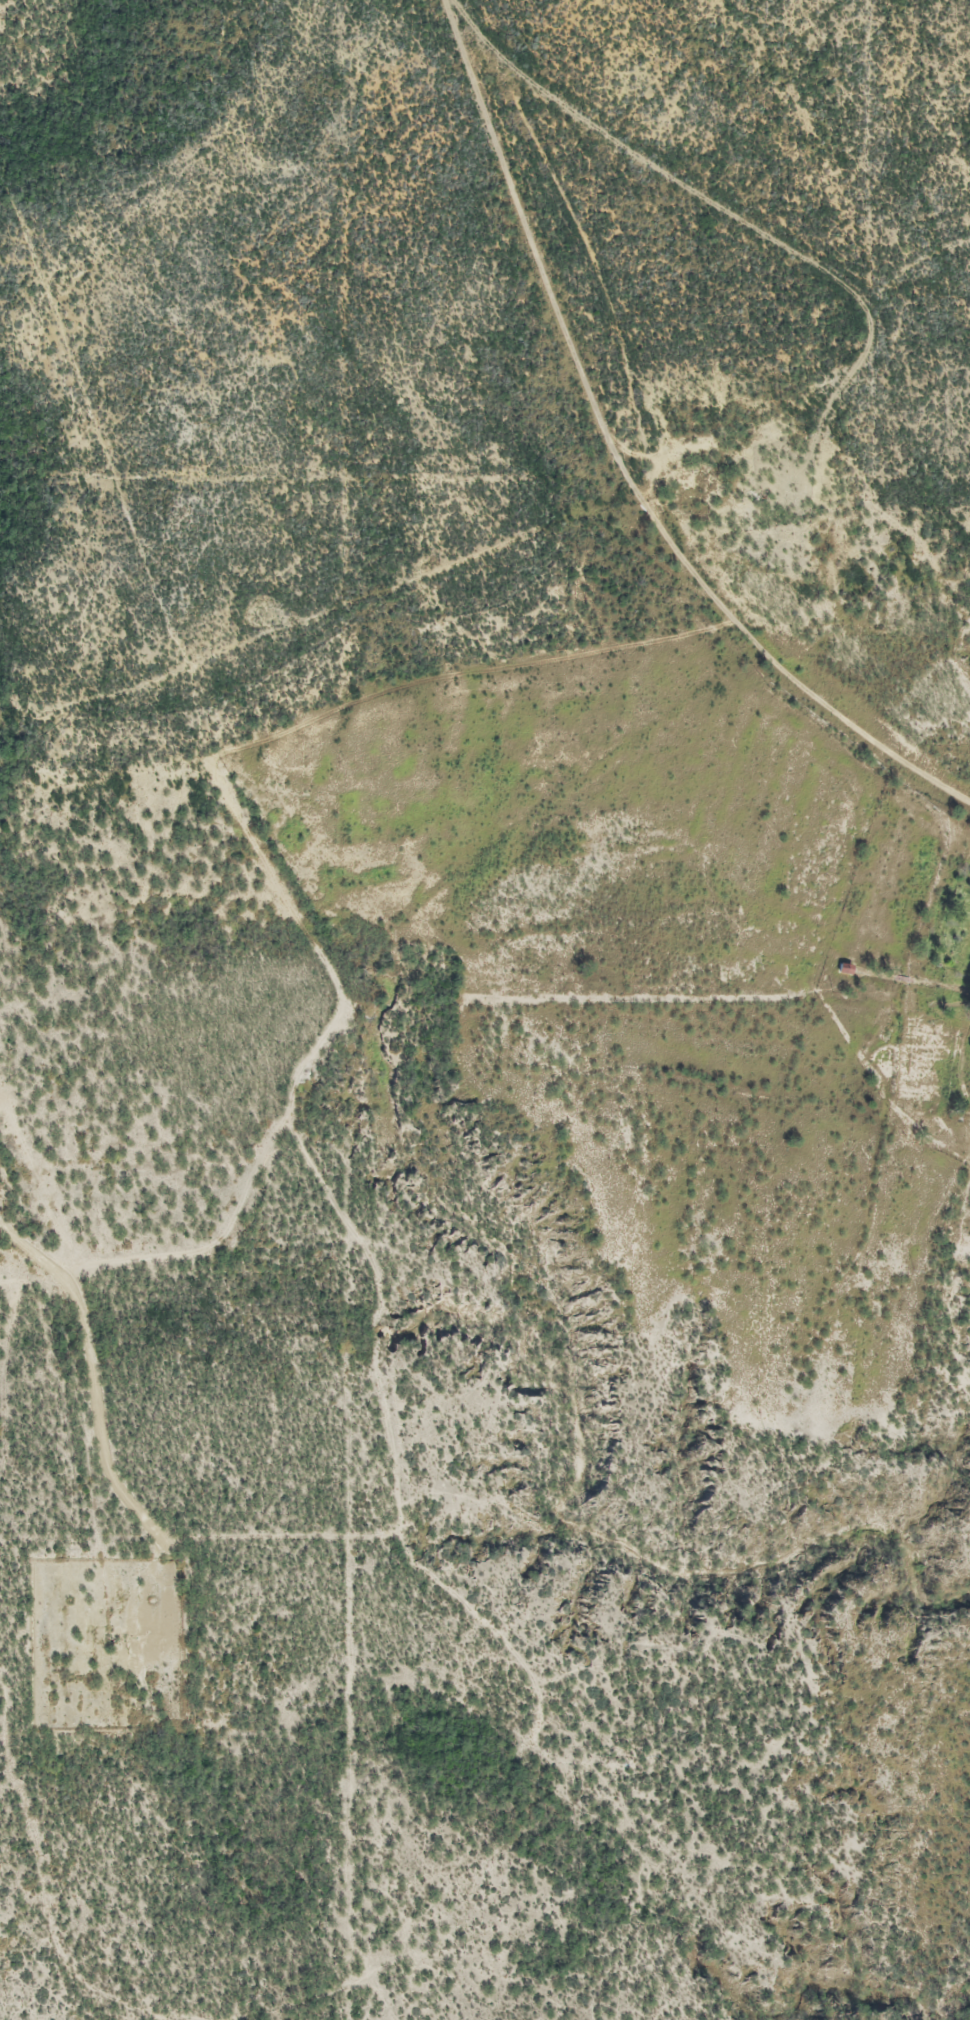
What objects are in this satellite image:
road: (615, 466)

